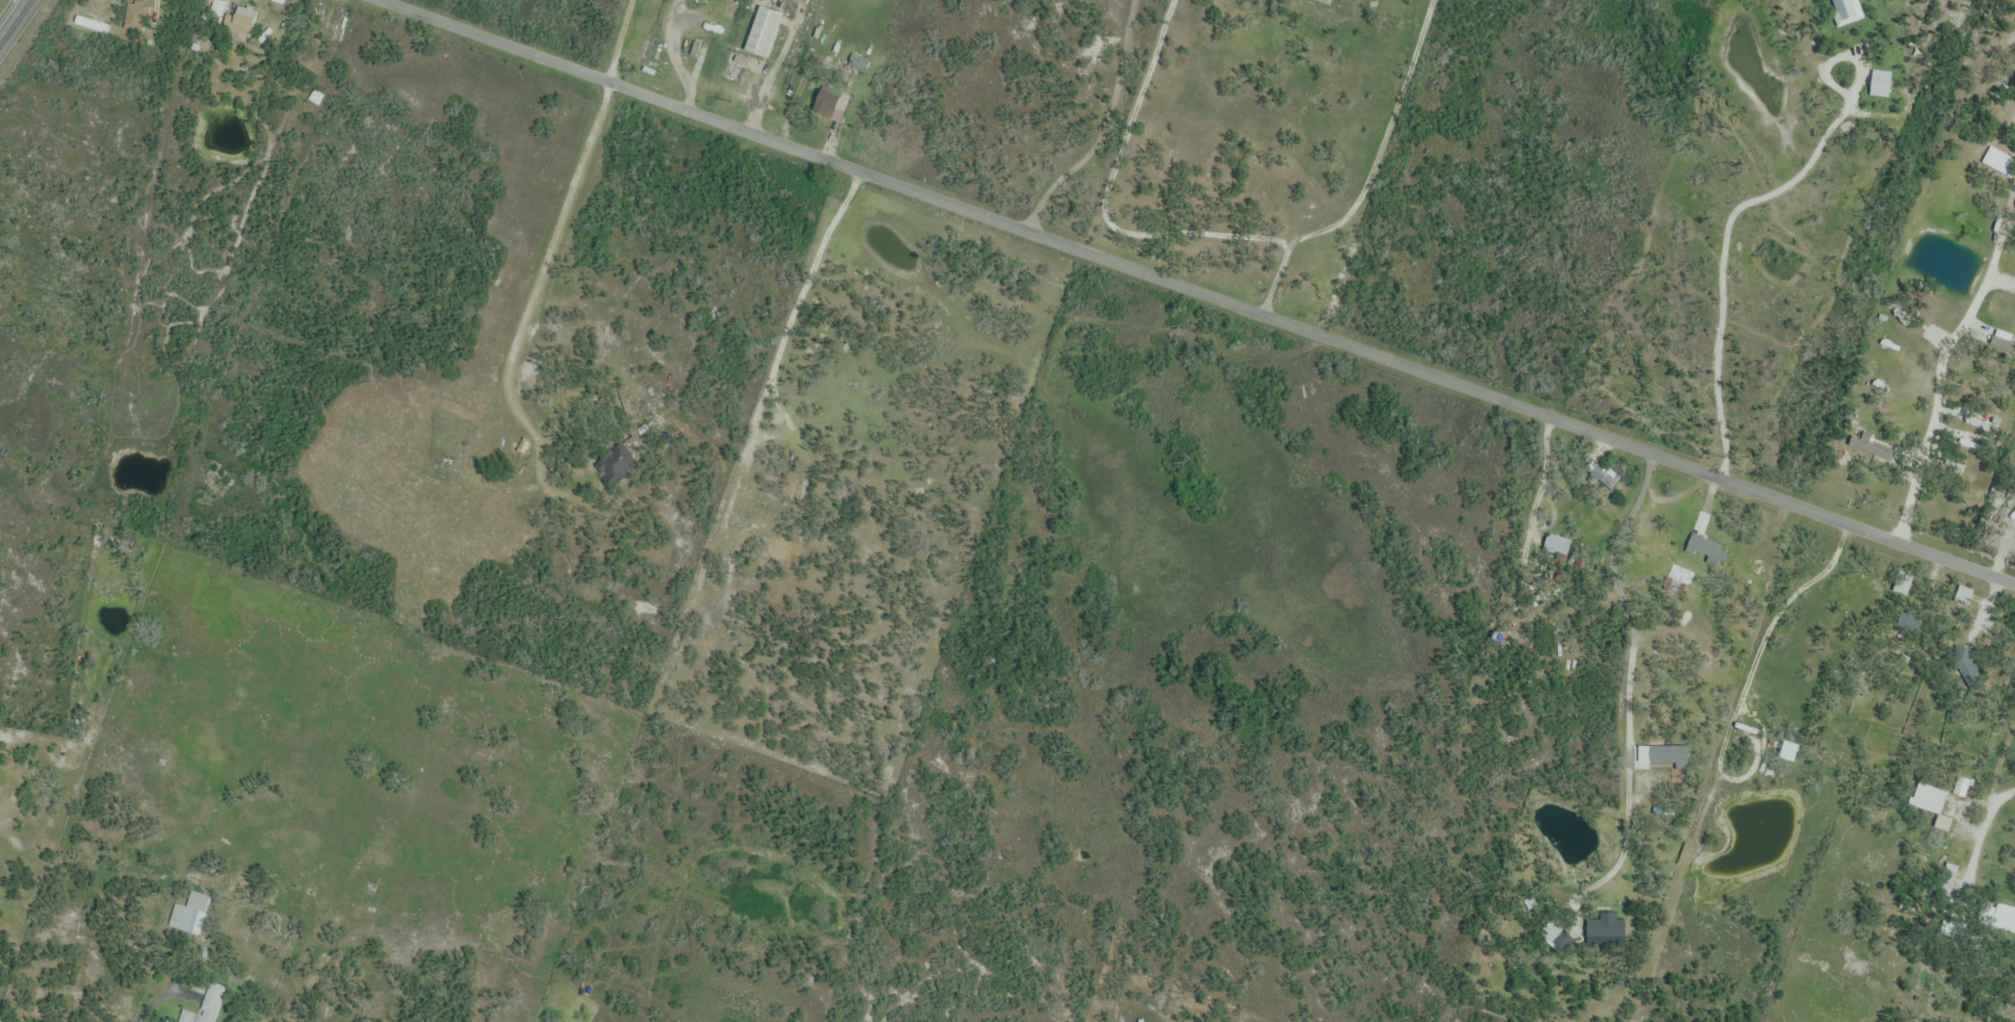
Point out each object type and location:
building: (1324, 2)
road: (13, 18)
building: (137, 18)
building: (238, 24)
building: (765, 28)
building: (859, 64)
road: (773, 67)
building: (829, 104)
road: (1384, 140)
building: (1994, 162)
road: (1101, 200)
road: (1741, 204)
road: (1275, 278)
road: (1198, 290)
road: (1938, 379)
building: (615, 463)
building: (444, 469)
building: (1596, 473)
building: (747, 515)
building: (1557, 546)
building: (1707, 549)
building: (1963, 595)
building: (1964, 661)
road: (1629, 680)
building: (1667, 755)
building: (2002, 917)
building: (1607, 930)
building: (1564, 941)
building: (205, 1010)

